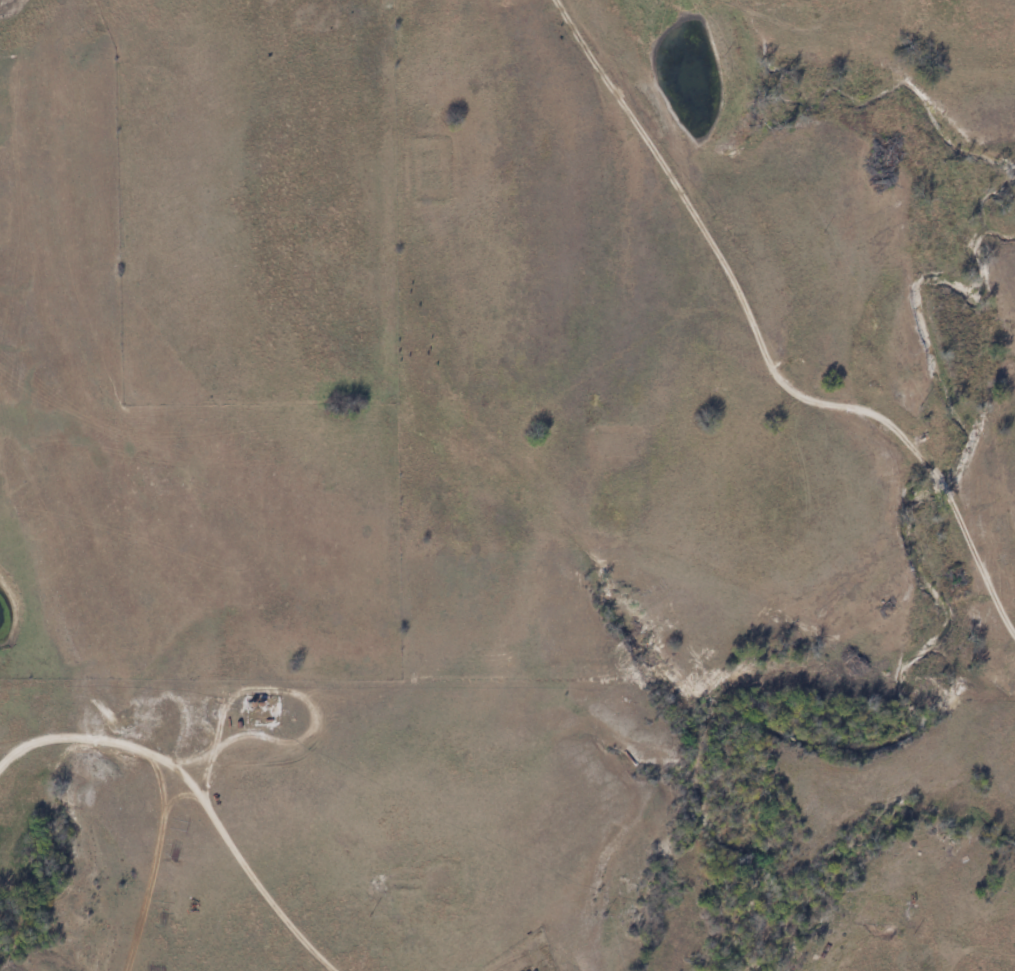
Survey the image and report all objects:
road: (767, 315)
road: (197, 792)

